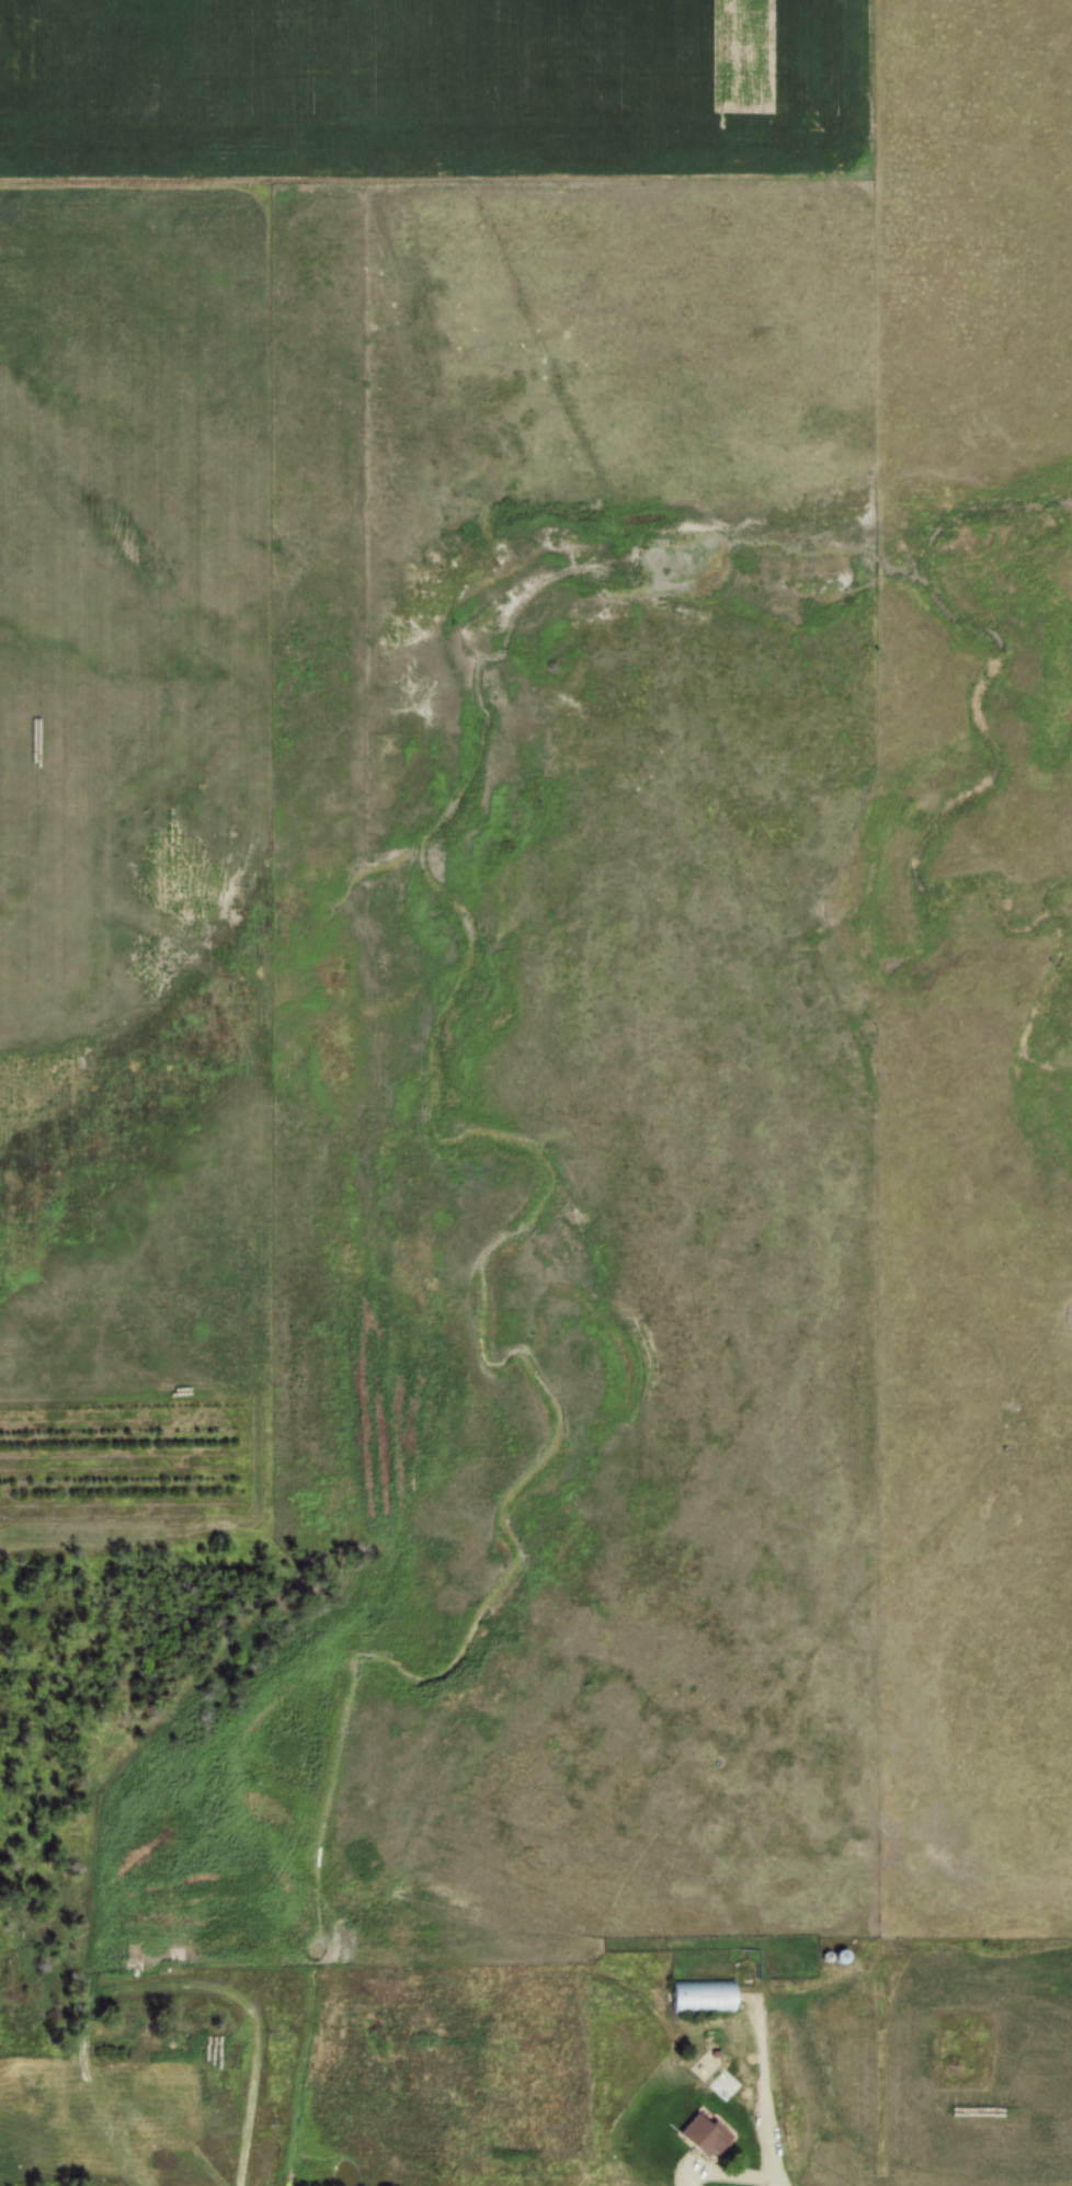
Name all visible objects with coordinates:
building: (135, 1955)
building: (845, 1958)
building: (707, 1997)
building: (709, 2137)

